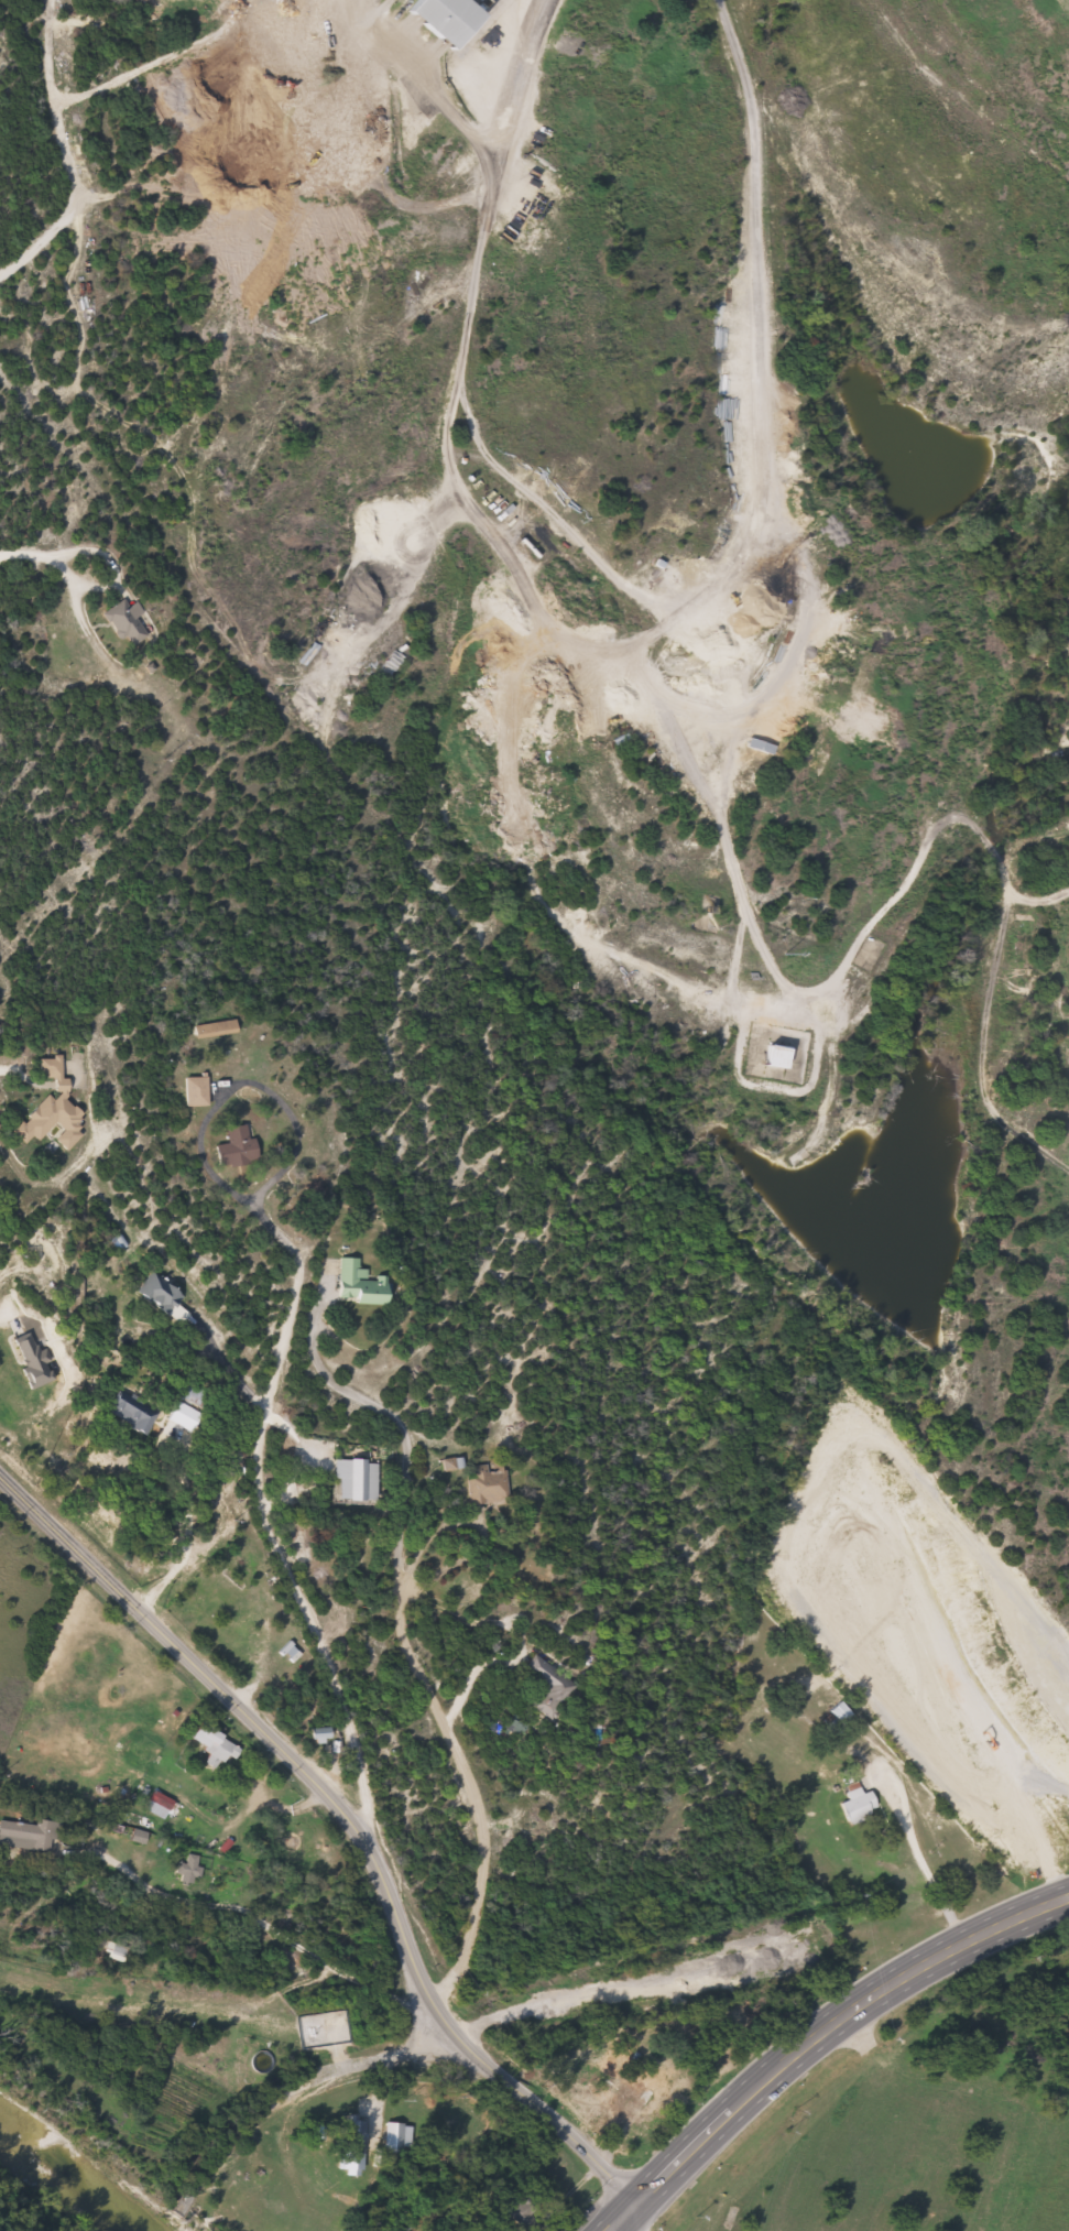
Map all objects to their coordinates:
building: (449, 18)
road: (55, 559)
building: (129, 621)
building: (695, 725)
building: (713, 768)
building: (218, 1029)
building: (781, 1056)
building: (56, 1110)
building: (240, 1147)
building: (362, 1284)
building: (165, 1295)
building: (198, 1397)
building: (357, 1480)
building: (489, 1484)
road: (415, 1664)
building: (547, 1686)
building: (843, 1713)
building: (325, 1734)
building: (217, 1743)
road: (164, 1788)
building: (163, 1800)
building: (861, 1805)
road: (352, 1824)
building: (26, 1836)
road: (716, 1944)
road: (827, 2039)
building: (642, 2087)
building: (357, 2139)
road: (999, 2164)
building: (524, 2210)
road: (635, 2225)

